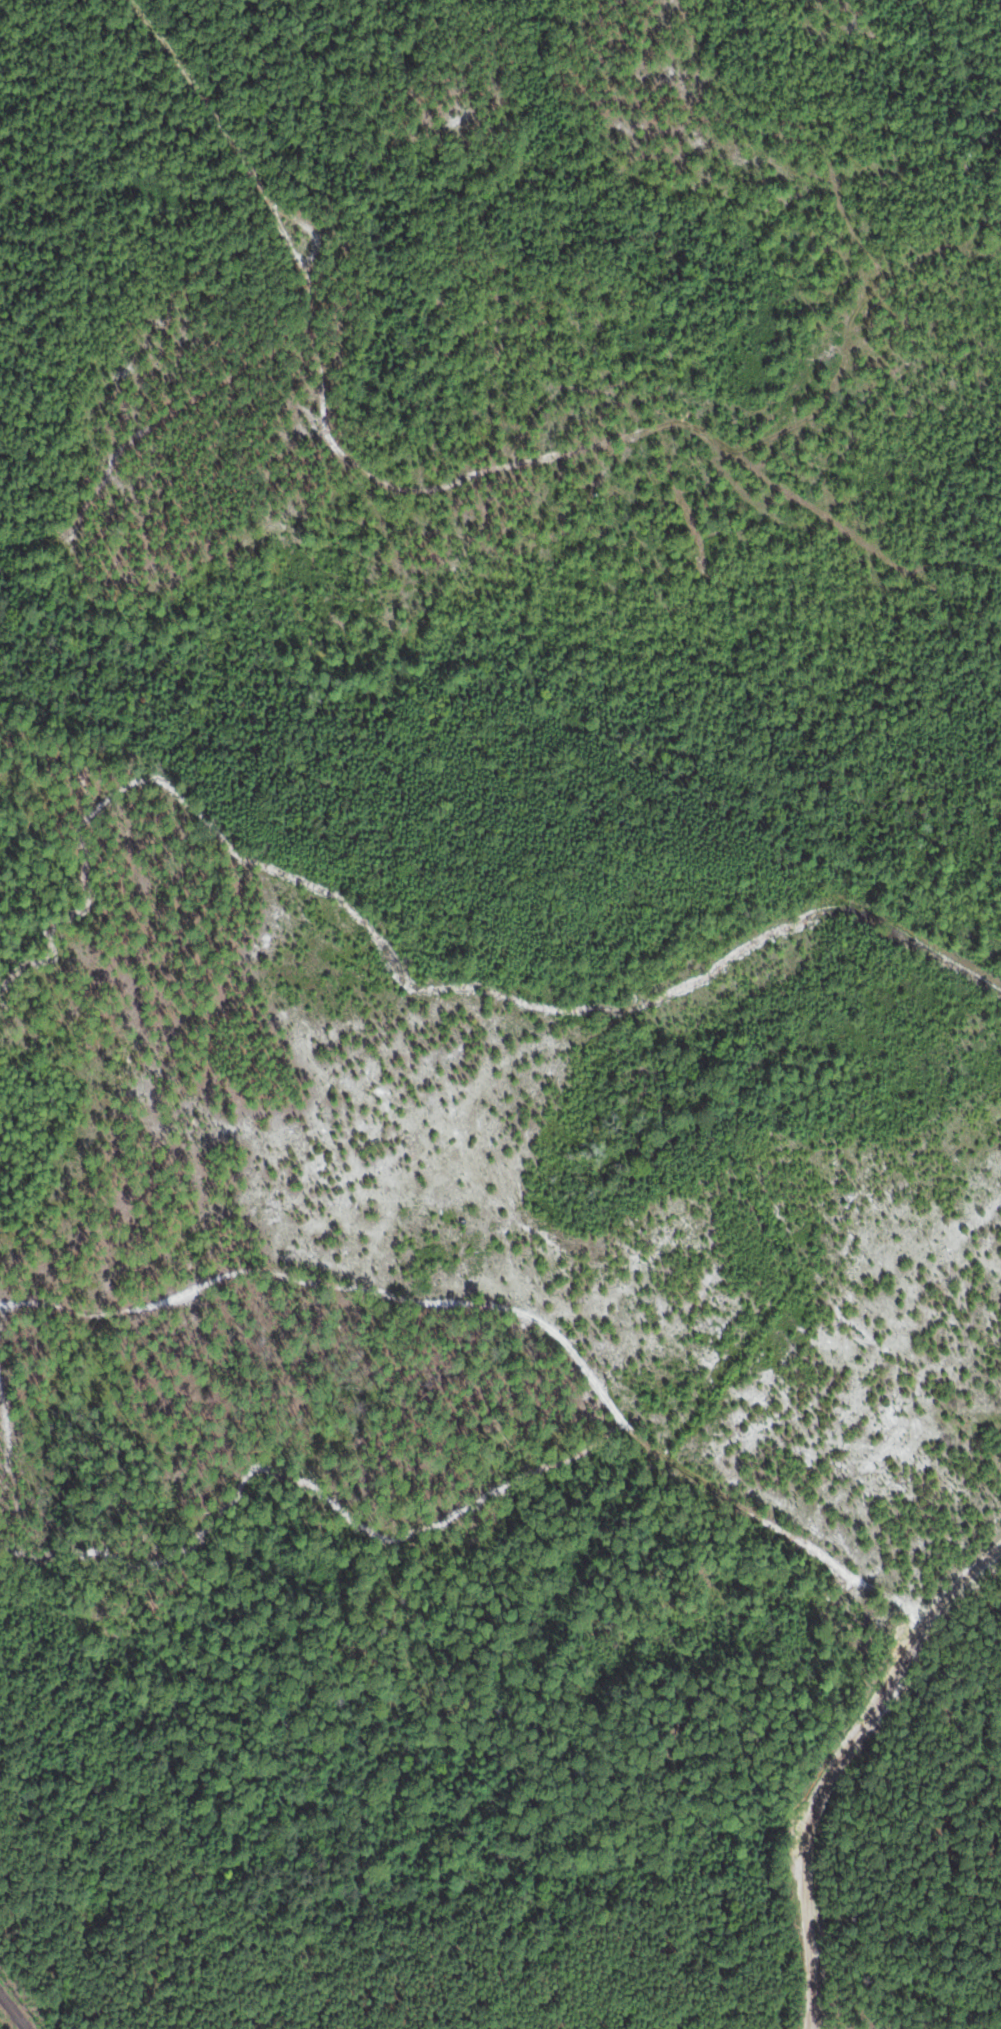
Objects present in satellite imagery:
road: (671, 1460)

